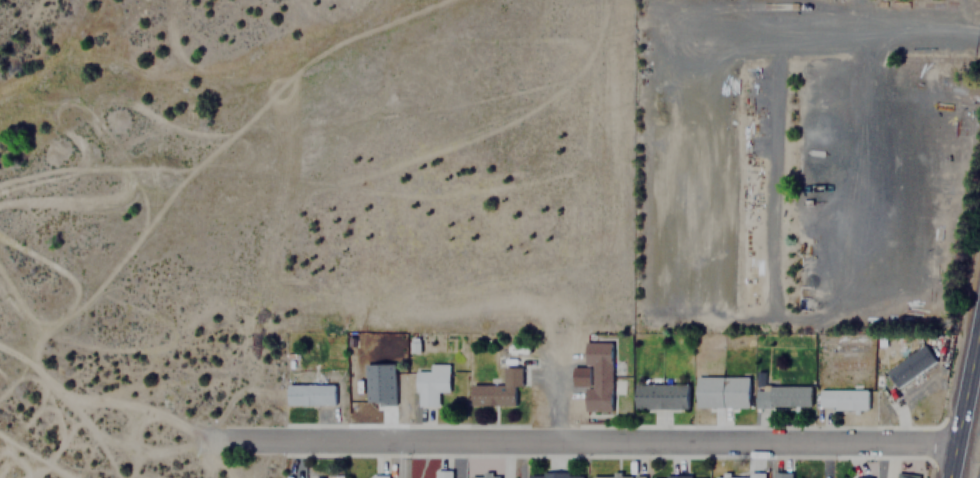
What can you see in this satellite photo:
building: (908, 365)
building: (596, 376)
road: (554, 380)
building: (429, 383)
building: (496, 389)
building: (720, 391)
building: (309, 394)
building: (659, 396)
building: (781, 396)
building: (841, 399)
road: (965, 404)
road: (590, 444)
power substation: (977, 465)
building: (441, 474)
building: (781, 474)
building: (378, 475)
building: (553, 475)
building: (904, 475)
building: (617, 476)
building: (738, 476)
building: (483, 477)
building: (676, 477)

